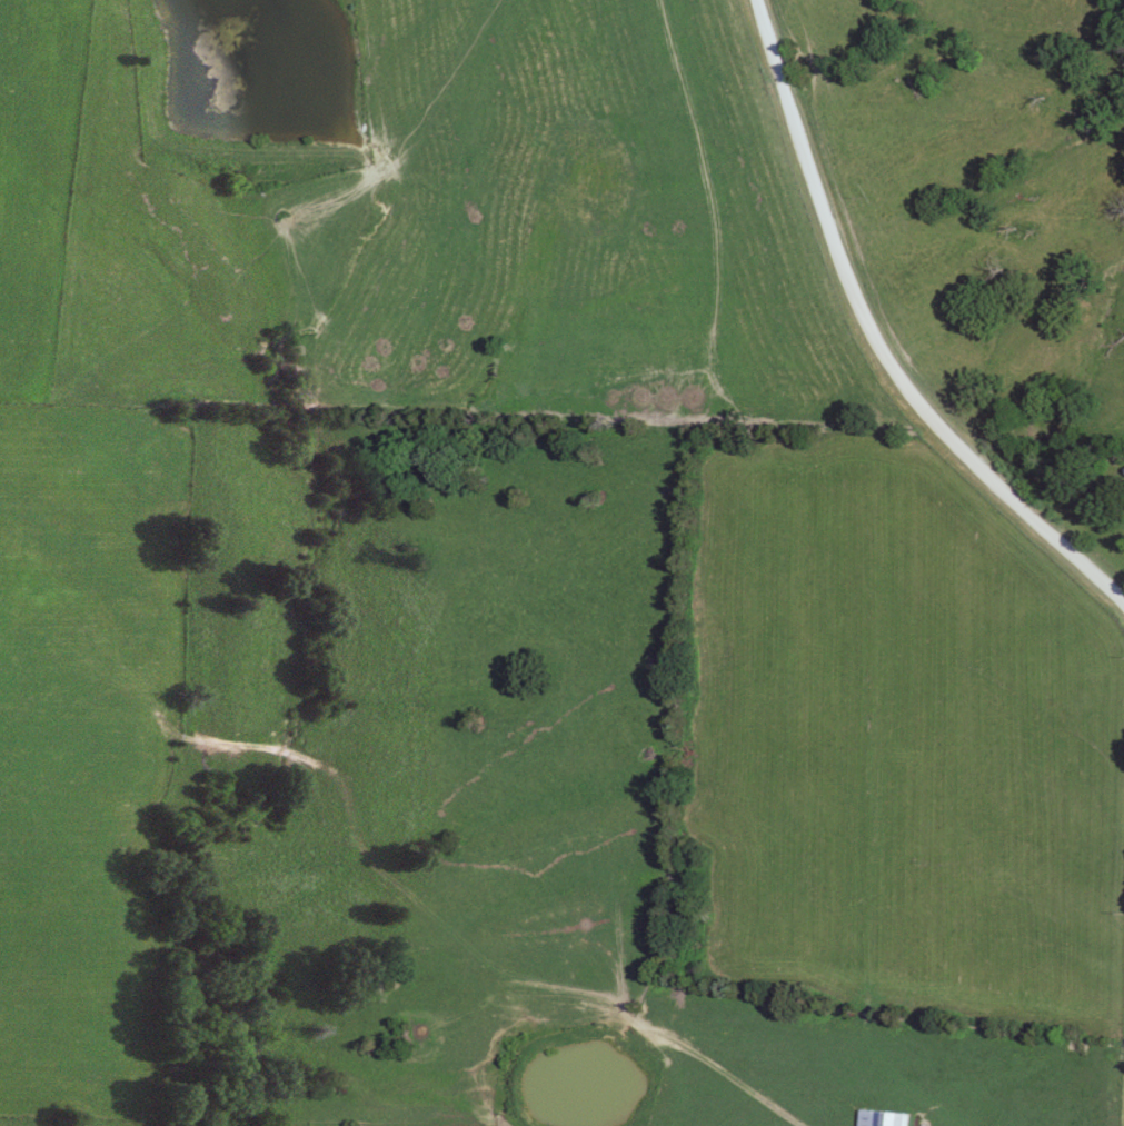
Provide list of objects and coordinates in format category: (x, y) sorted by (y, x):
road: (883, 337)
building: (883, 1118)

